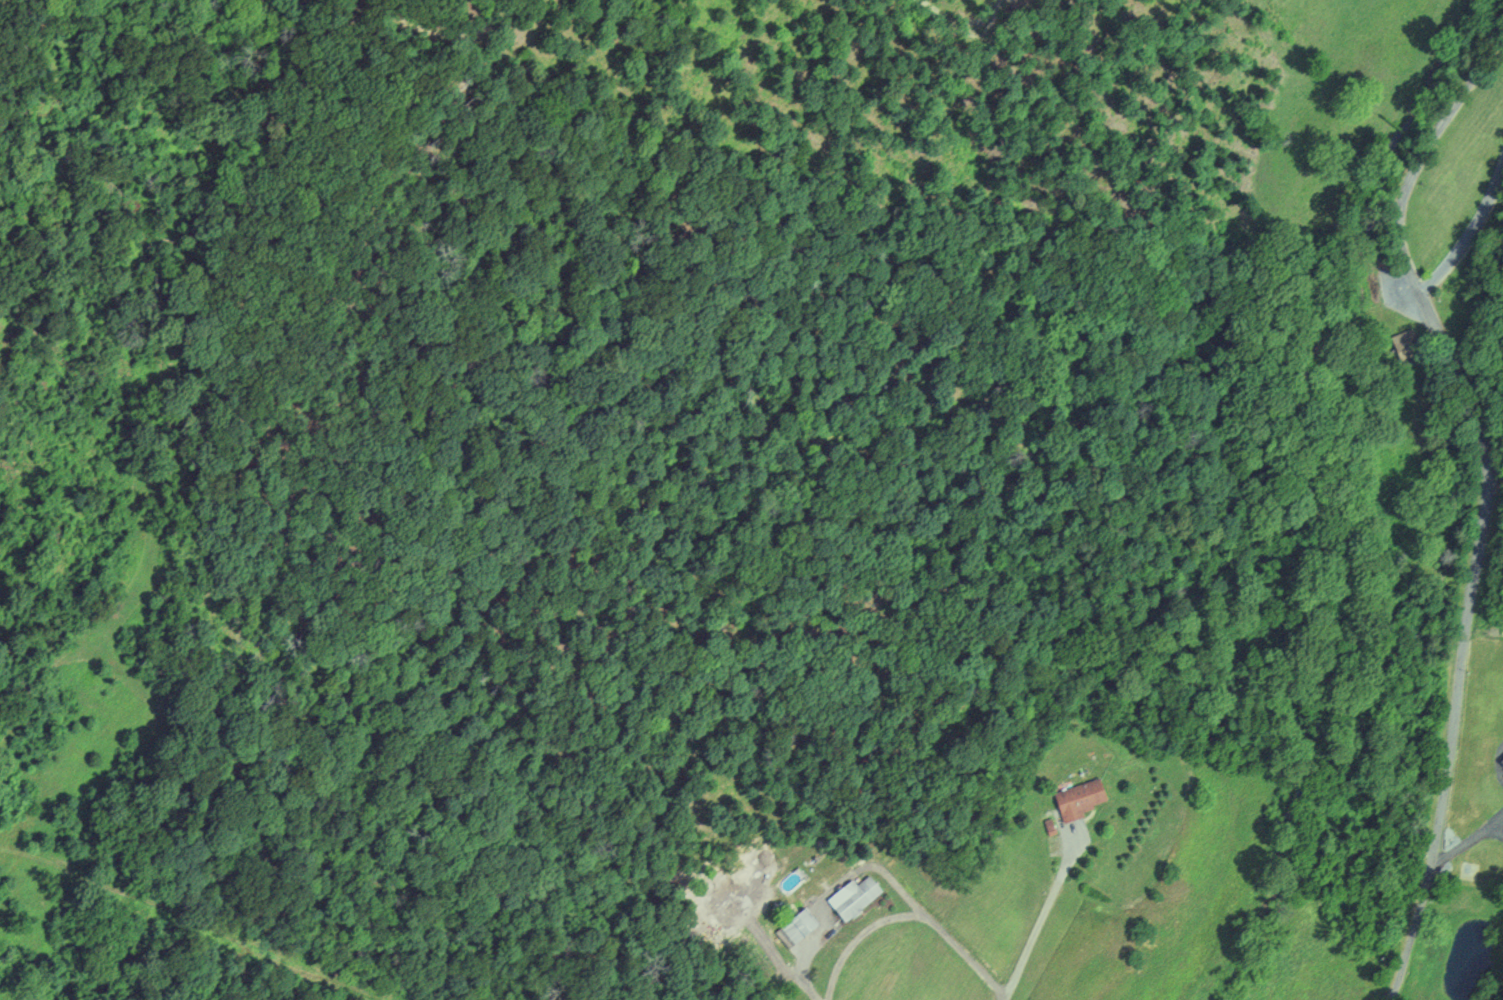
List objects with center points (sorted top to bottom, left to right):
road: (1468, 237)
building: (1407, 347)
road: (1488, 491)
building: (1081, 799)
building: (858, 897)
road: (1043, 917)
building: (798, 925)
road: (808, 961)

